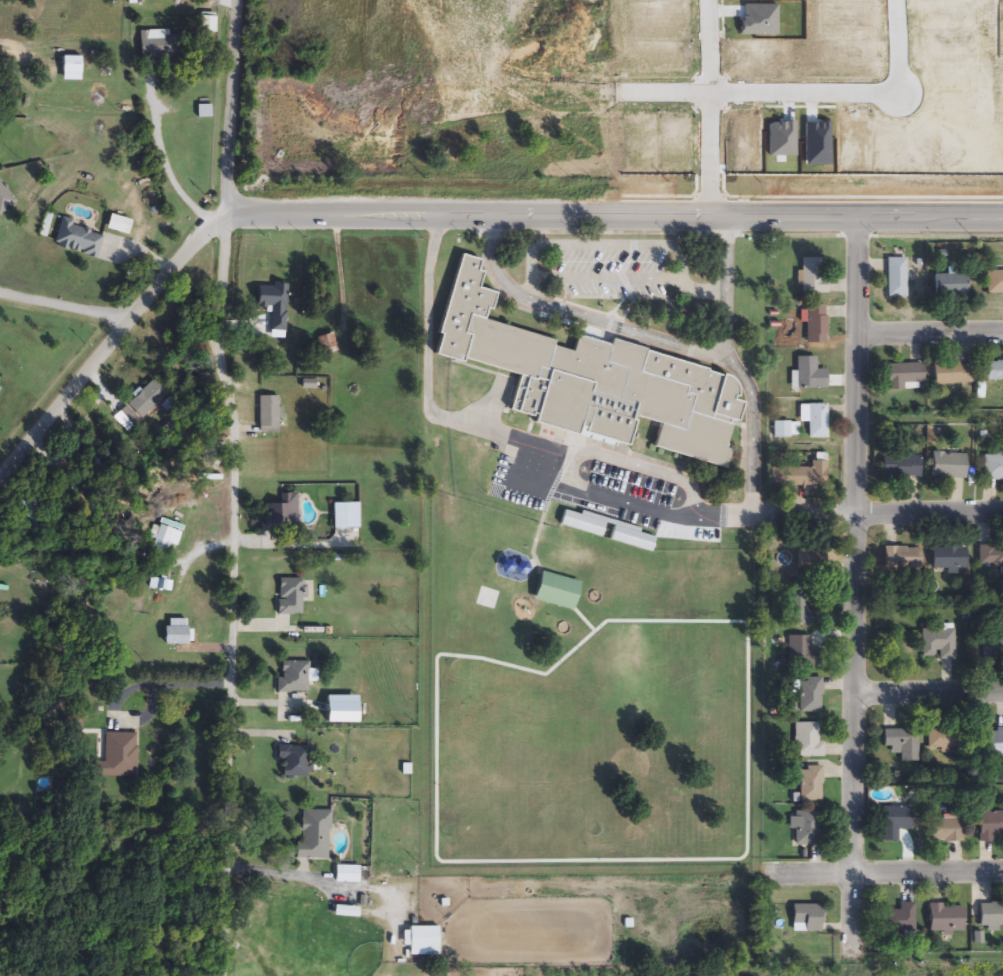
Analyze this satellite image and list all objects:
building: (207, 25)
building: (162, 46)
building: (70, 69)
road: (847, 93)
road: (705, 107)
building: (203, 112)
road: (167, 161)
building: (5, 198)
road: (616, 213)
building: (79, 240)
road: (623, 245)
building: (812, 277)
road: (610, 278)
building: (898, 279)
building: (994, 284)
building: (949, 286)
road: (67, 308)
road: (579, 315)
building: (815, 324)
road: (932, 334)
building: (328, 345)
road: (113, 347)
road: (736, 367)
building: (991, 373)
building: (951, 375)
building: (809, 376)
building: (904, 378)
building: (0, 381)
building: (590, 381)
building: (147, 400)
building: (270, 416)
building: (818, 422)
building: (787, 431)
road: (508, 433)
building: (900, 467)
building: (949, 467)
building: (993, 468)
building: (800, 477)
road: (237, 486)
road: (620, 499)
road: (881, 512)
building: (27, 514)
building: (347, 516)
building: (279, 518)
building: (607, 531)
building: (990, 558)
building: (902, 559)
building: (947, 559)
building: (811, 562)
road: (859, 579)
building: (555, 591)
building: (292, 597)
building: (802, 611)
building: (939, 645)
building: (992, 648)
building: (803, 652)
building: (294, 678)
road: (163, 680)
road: (931, 692)
building: (810, 697)
building: (73, 731)
building: (948, 739)
building: (809, 740)
building: (903, 743)
building: (991, 743)
building: (118, 756)
building: (294, 761)
building: (811, 785)
building: (895, 822)
building: (991, 827)
building: (807, 829)
building: (946, 830)
building: (313, 837)
road: (887, 873)
building: (350, 876)
building: (345, 913)
building: (991, 915)
building: (808, 918)
building: (946, 919)
building: (900, 920)
building: (424, 943)

